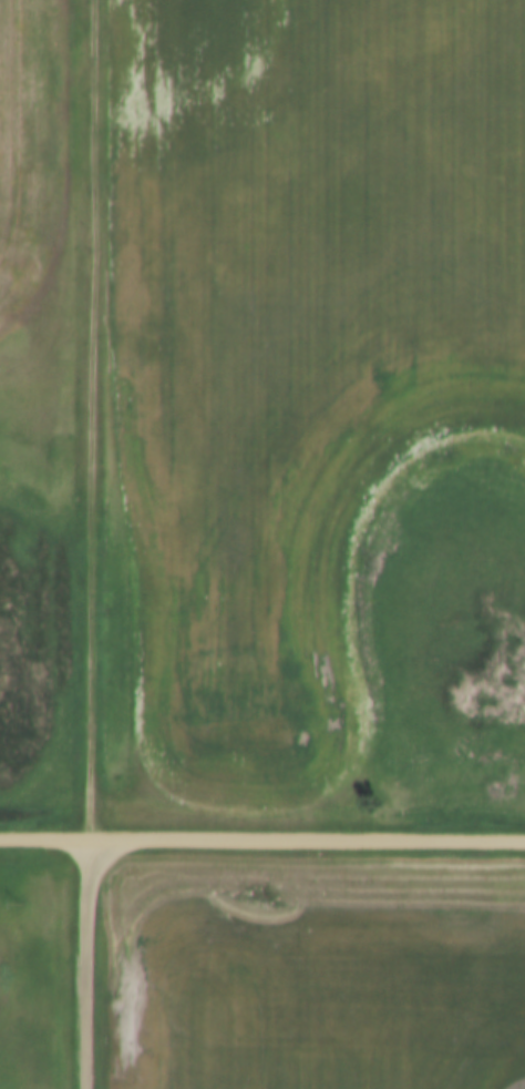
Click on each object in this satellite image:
road: (84, 418)
road: (262, 837)
road: (82, 963)

